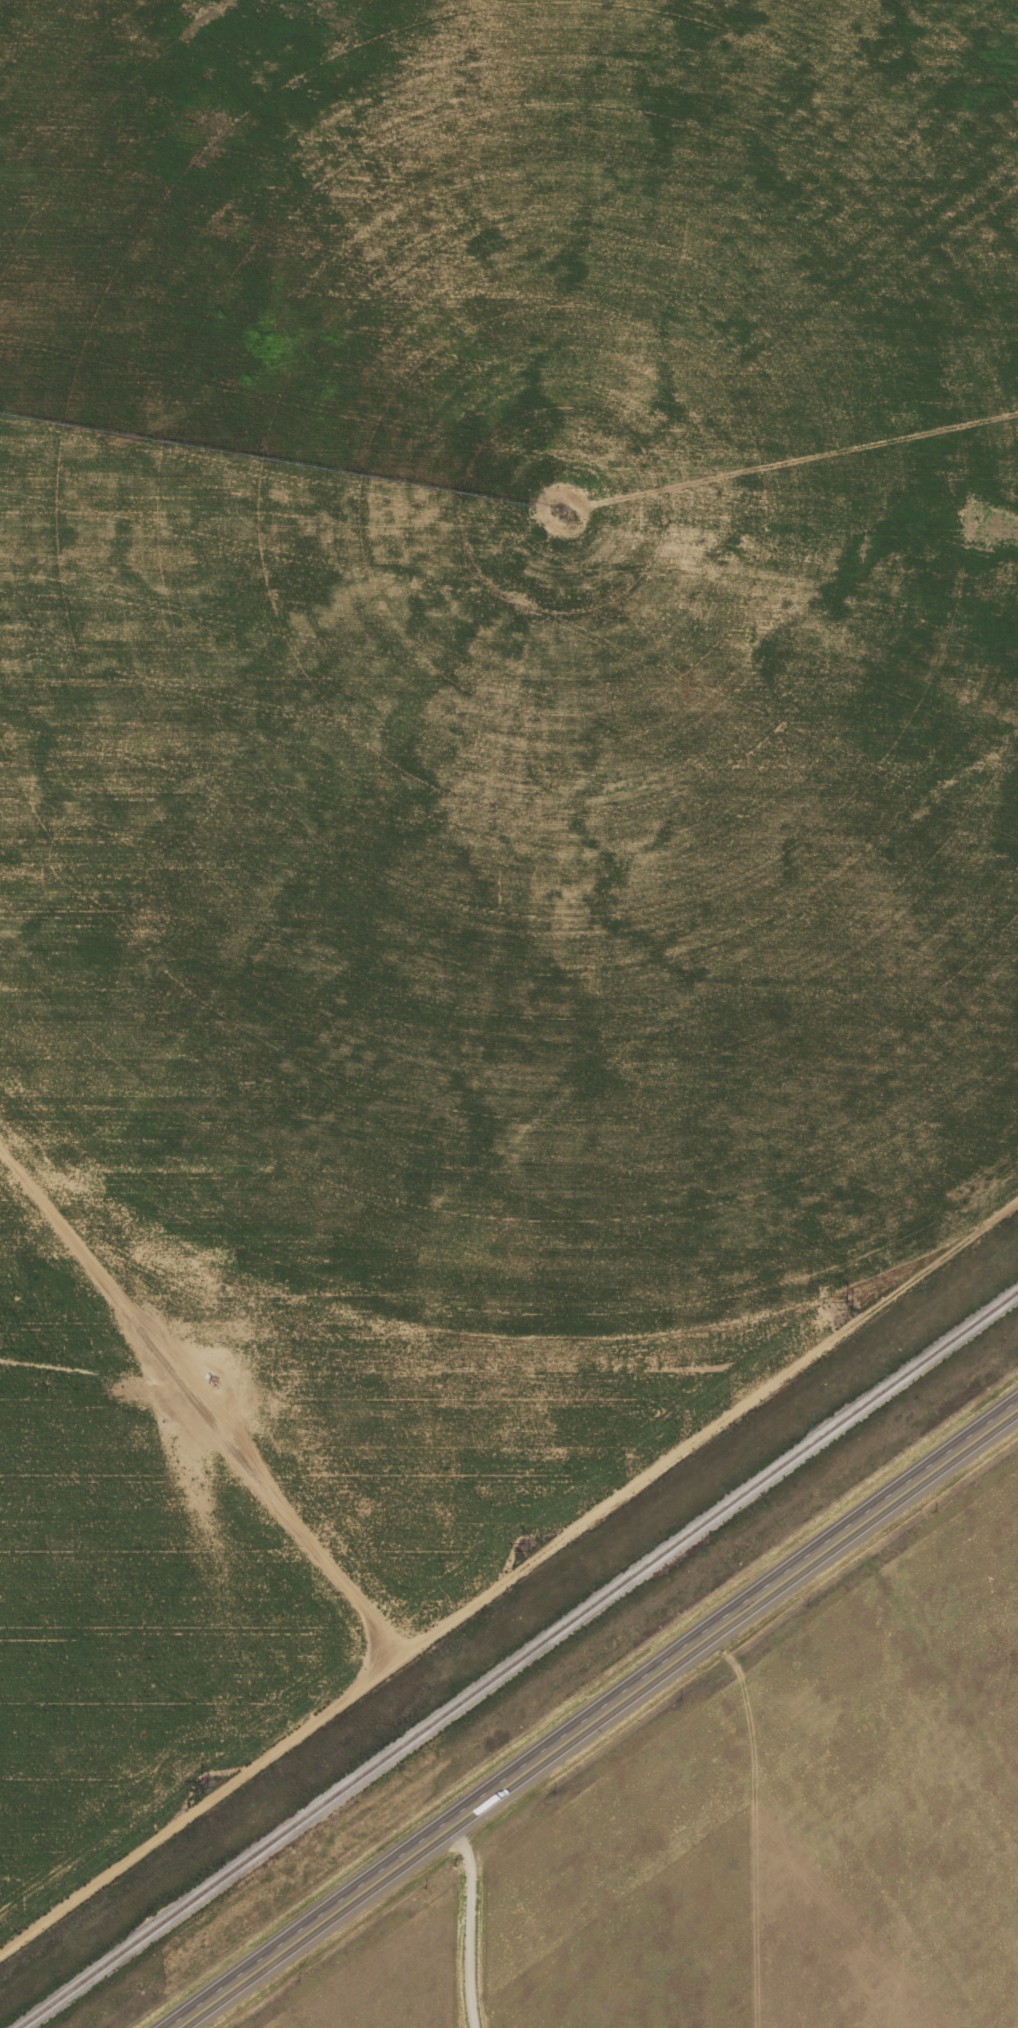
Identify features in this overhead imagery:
power tower: (847, 1302)
power tower: (526, 1547)
railway: (524, 1662)
road: (596, 1716)
power tower: (203, 1783)

